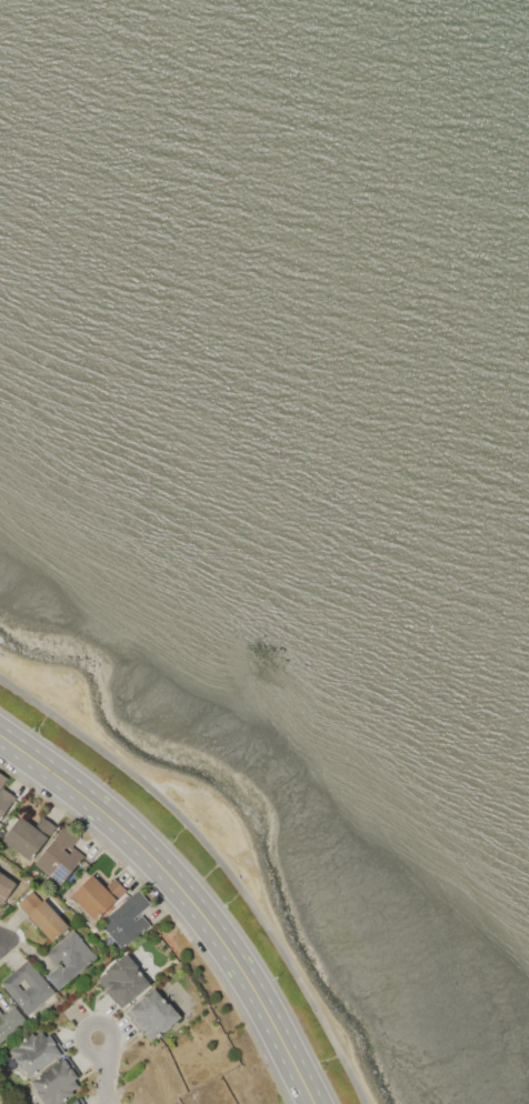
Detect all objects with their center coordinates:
building: (4, 796)
building: (29, 835)
building: (60, 854)
building: (4, 886)
road: (186, 894)
building: (98, 895)
road: (168, 913)
building: (42, 915)
building: (126, 919)
road: (20, 939)
road: (7, 942)
building: (67, 959)
building: (123, 981)
building: (26, 986)
building: (0, 1012)
building: (151, 1015)
building: (10, 1023)
building: (34, 1052)
road: (103, 1070)
building: (56, 1083)
building: (74, 1102)

